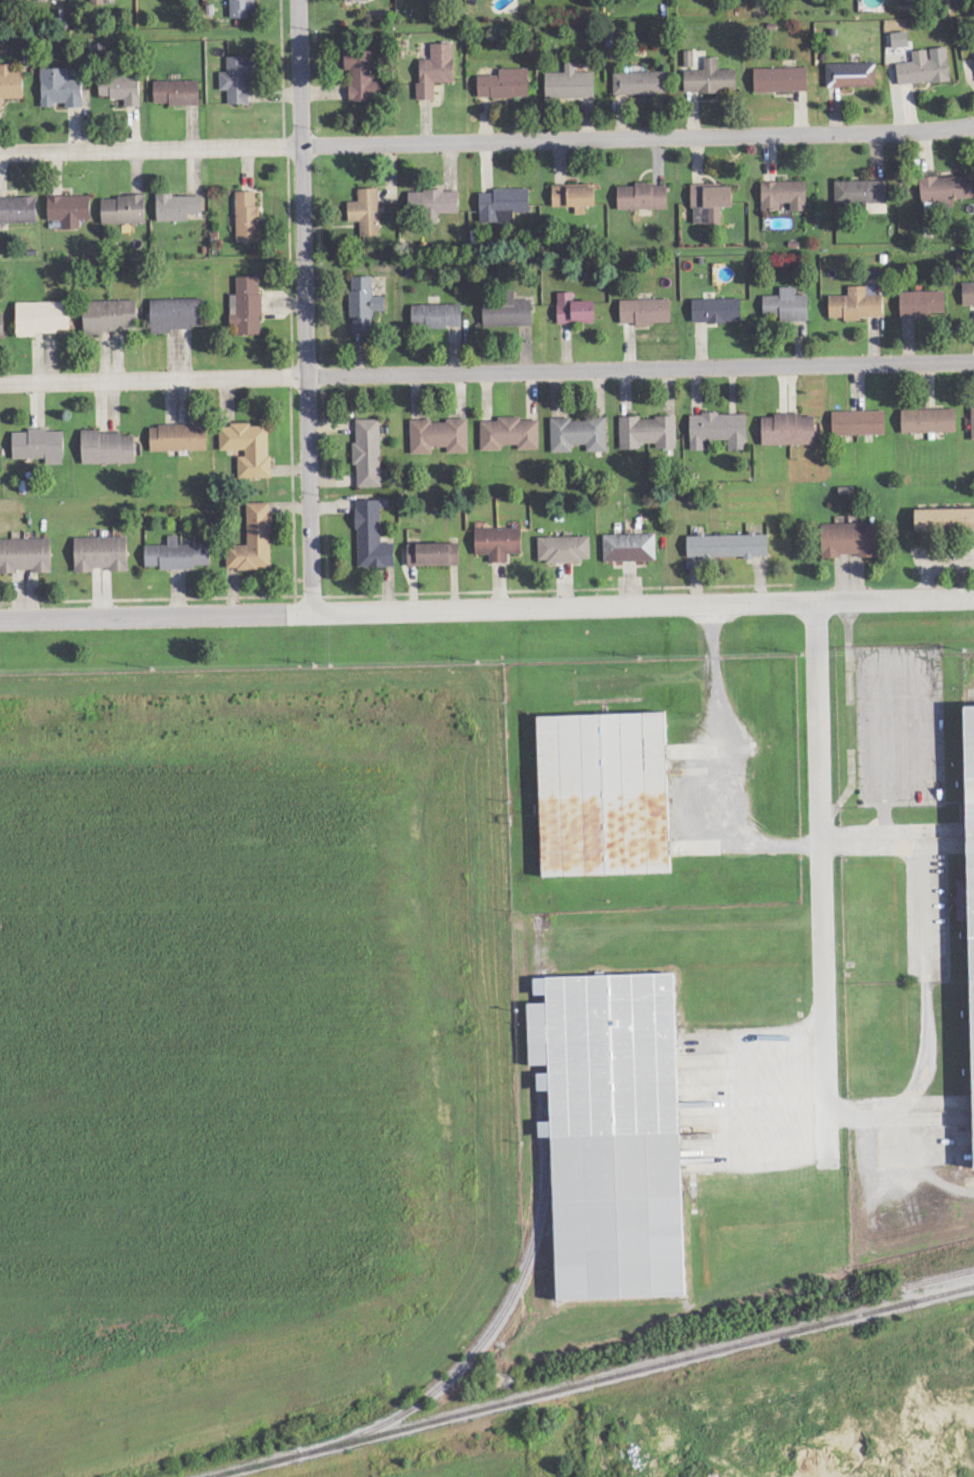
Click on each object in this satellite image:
building: (357, 0)
building: (97, 1)
building: (241, 8)
building: (689, 59)
building: (436, 70)
building: (923, 70)
building: (851, 75)
building: (362, 77)
building: (238, 79)
building: (710, 79)
building: (781, 80)
building: (10, 84)
building: (505, 84)
building: (570, 84)
building: (640, 84)
building: (61, 89)
building: (122, 89)
building: (177, 93)
road: (487, 139)
building: (946, 190)
building: (861, 192)
building: (785, 195)
building: (643, 197)
building: (575, 198)
building: (712, 201)
building: (435, 203)
building: (504, 205)
building: (178, 207)
building: (18, 210)
building: (70, 210)
building: (124, 210)
building: (367, 212)
building: (248, 218)
building: (968, 294)
building: (365, 304)
building: (857, 304)
building: (922, 304)
building: (247, 305)
road: (304, 305)
building: (787, 305)
building: (575, 310)
building: (717, 311)
building: (508, 312)
building: (646, 312)
building: (176, 315)
building: (110, 316)
building: (437, 316)
building: (43, 318)
building: (2, 327)
road: (487, 369)
building: (929, 421)
building: (859, 423)
building: (973, 423)
building: (719, 430)
building: (789, 430)
building: (648, 433)
building: (510, 434)
building: (579, 435)
building: (440, 436)
building: (178, 438)
building: (39, 446)
building: (108, 448)
building: (248, 448)
building: (368, 453)
building: (945, 521)
building: (372, 538)
building: (850, 540)
building: (254, 541)
building: (499, 543)
building: (728, 546)
building: (630, 548)
building: (565, 550)
building: (101, 554)
building: (25, 555)
building: (434, 555)
road: (928, 555)
building: (178, 556)
road: (486, 605)
building: (971, 795)
building: (605, 796)
road: (890, 840)
road: (822, 869)
building: (614, 1131)
railway: (535, 1245)
railway: (943, 1276)
railway: (589, 1380)

